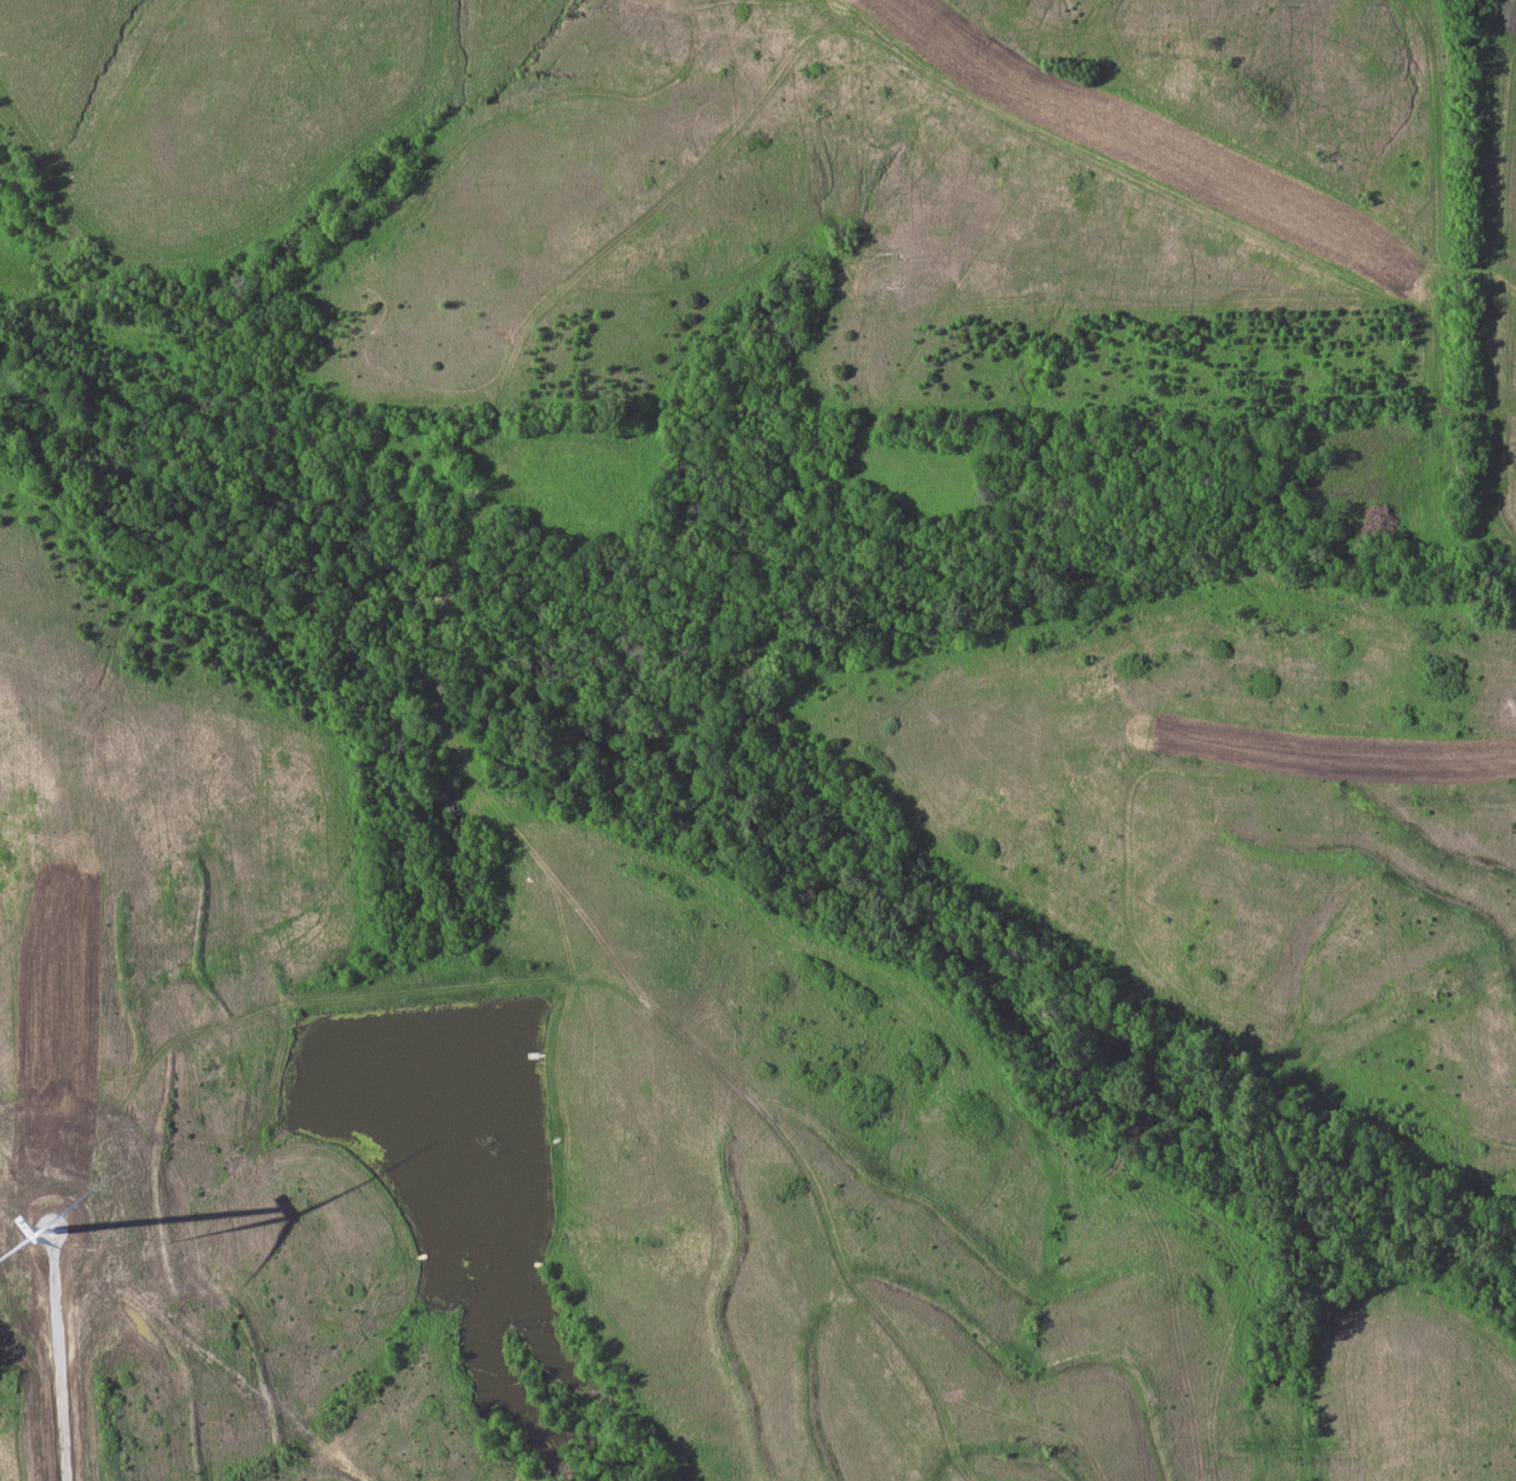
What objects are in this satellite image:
wind turbine: (54, 1227)

